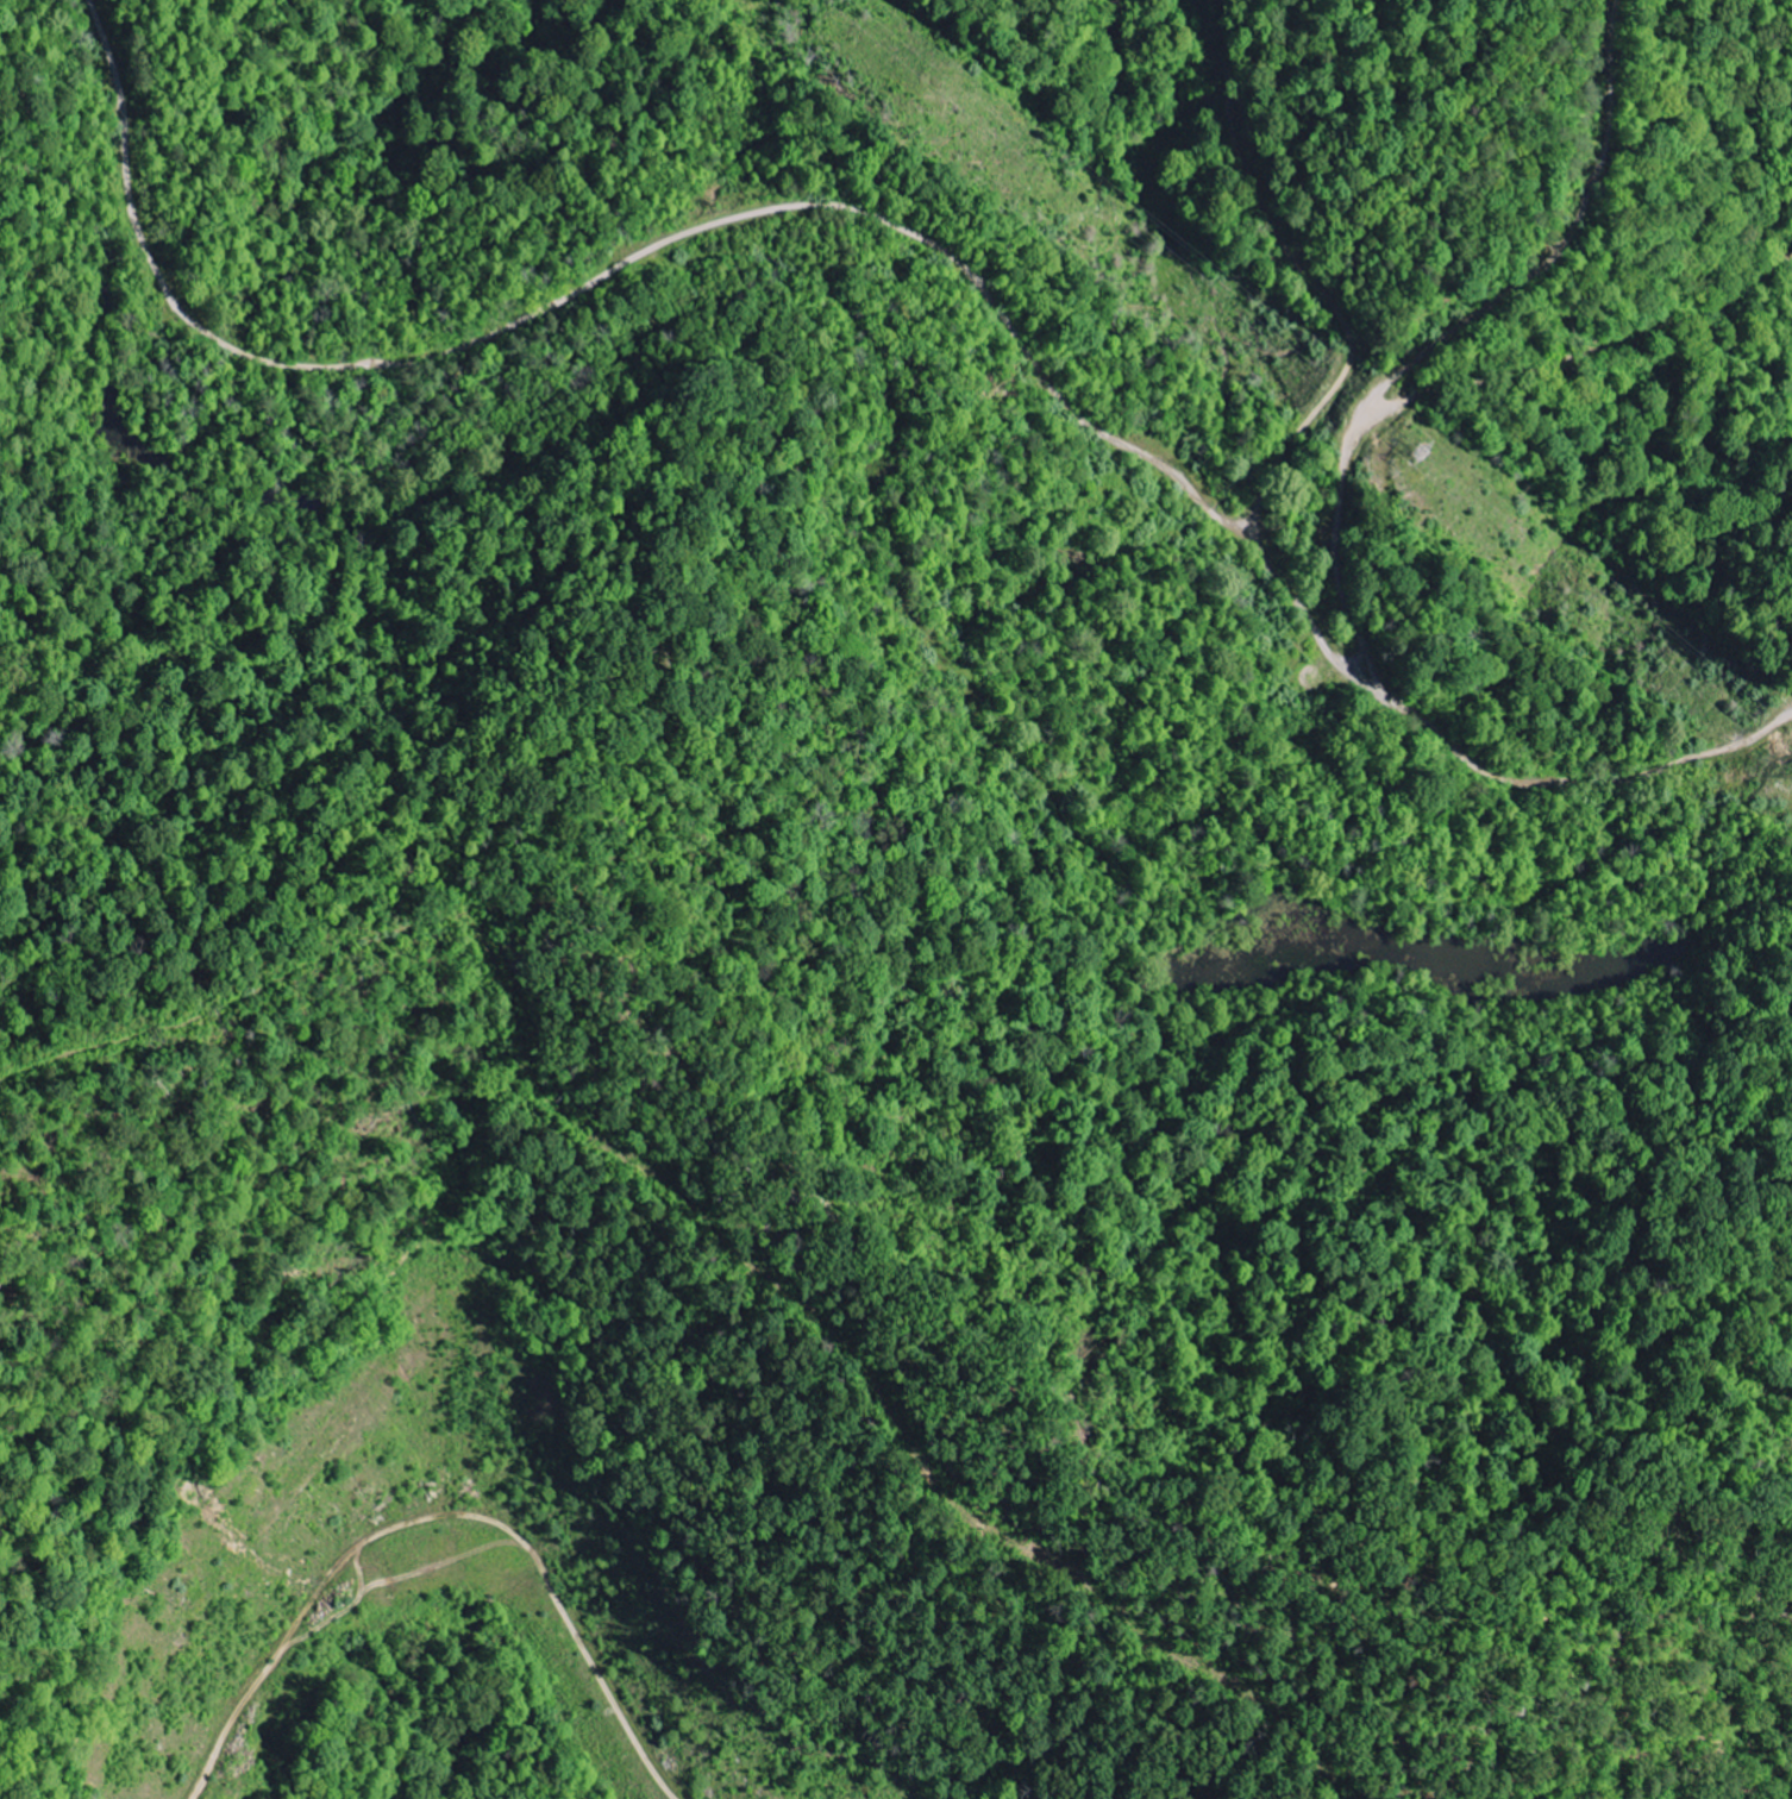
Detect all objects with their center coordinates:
road: (1417, 545)

